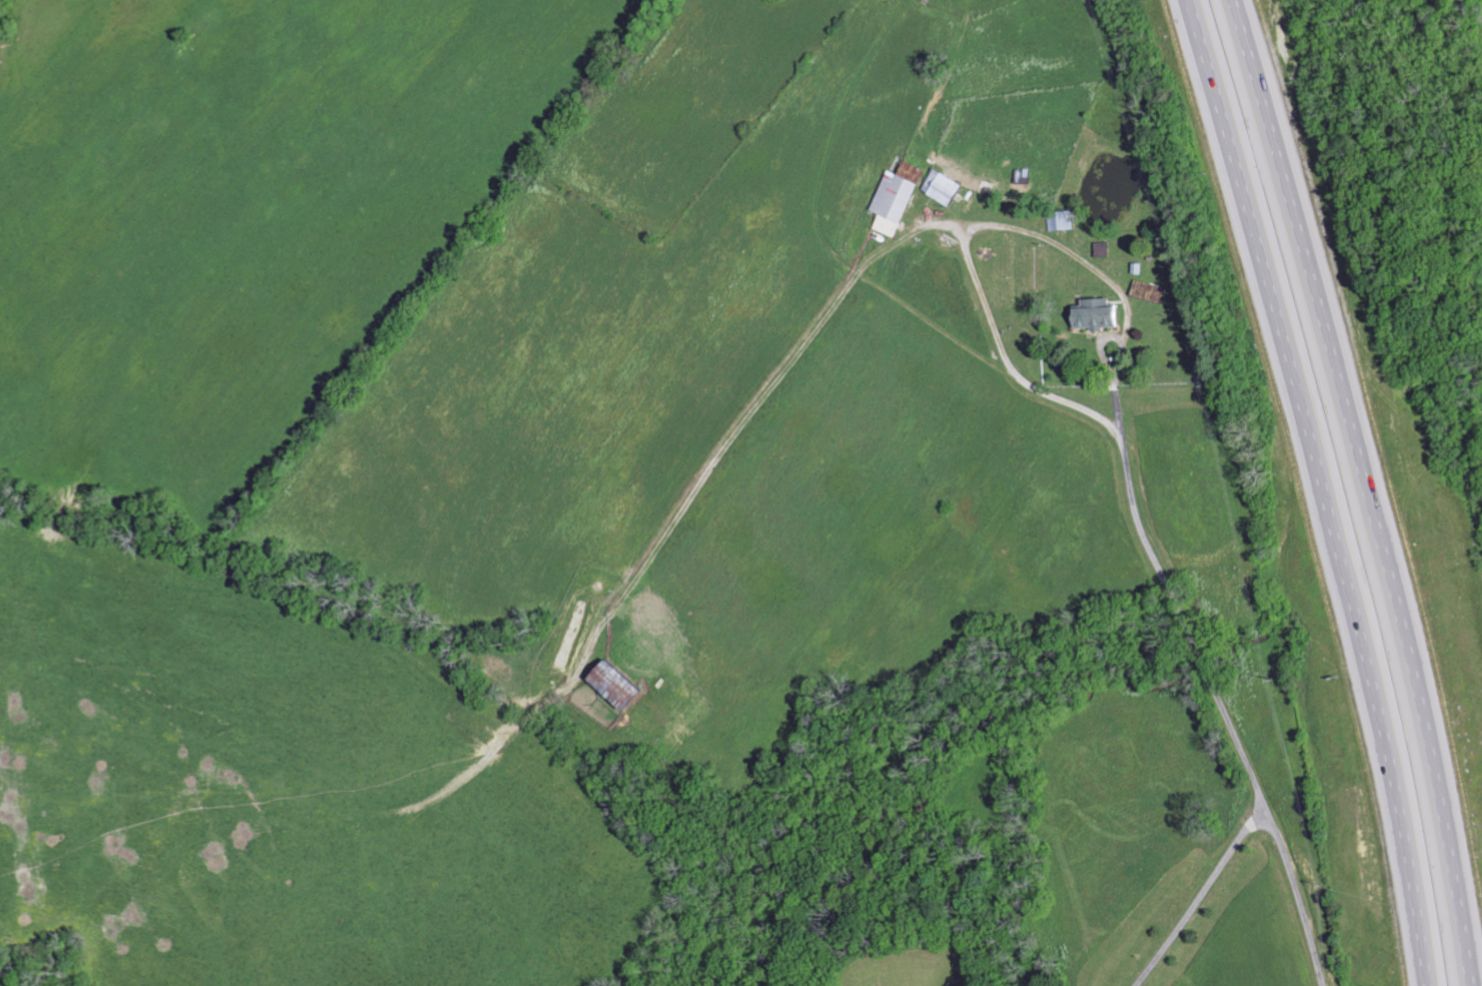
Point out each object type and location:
building: (892, 199)
road: (962, 255)
building: (1091, 315)
road: (1108, 371)
road: (1374, 487)
road: (1332, 489)
building: (625, 686)
road: (1229, 724)
road: (1480, 984)

